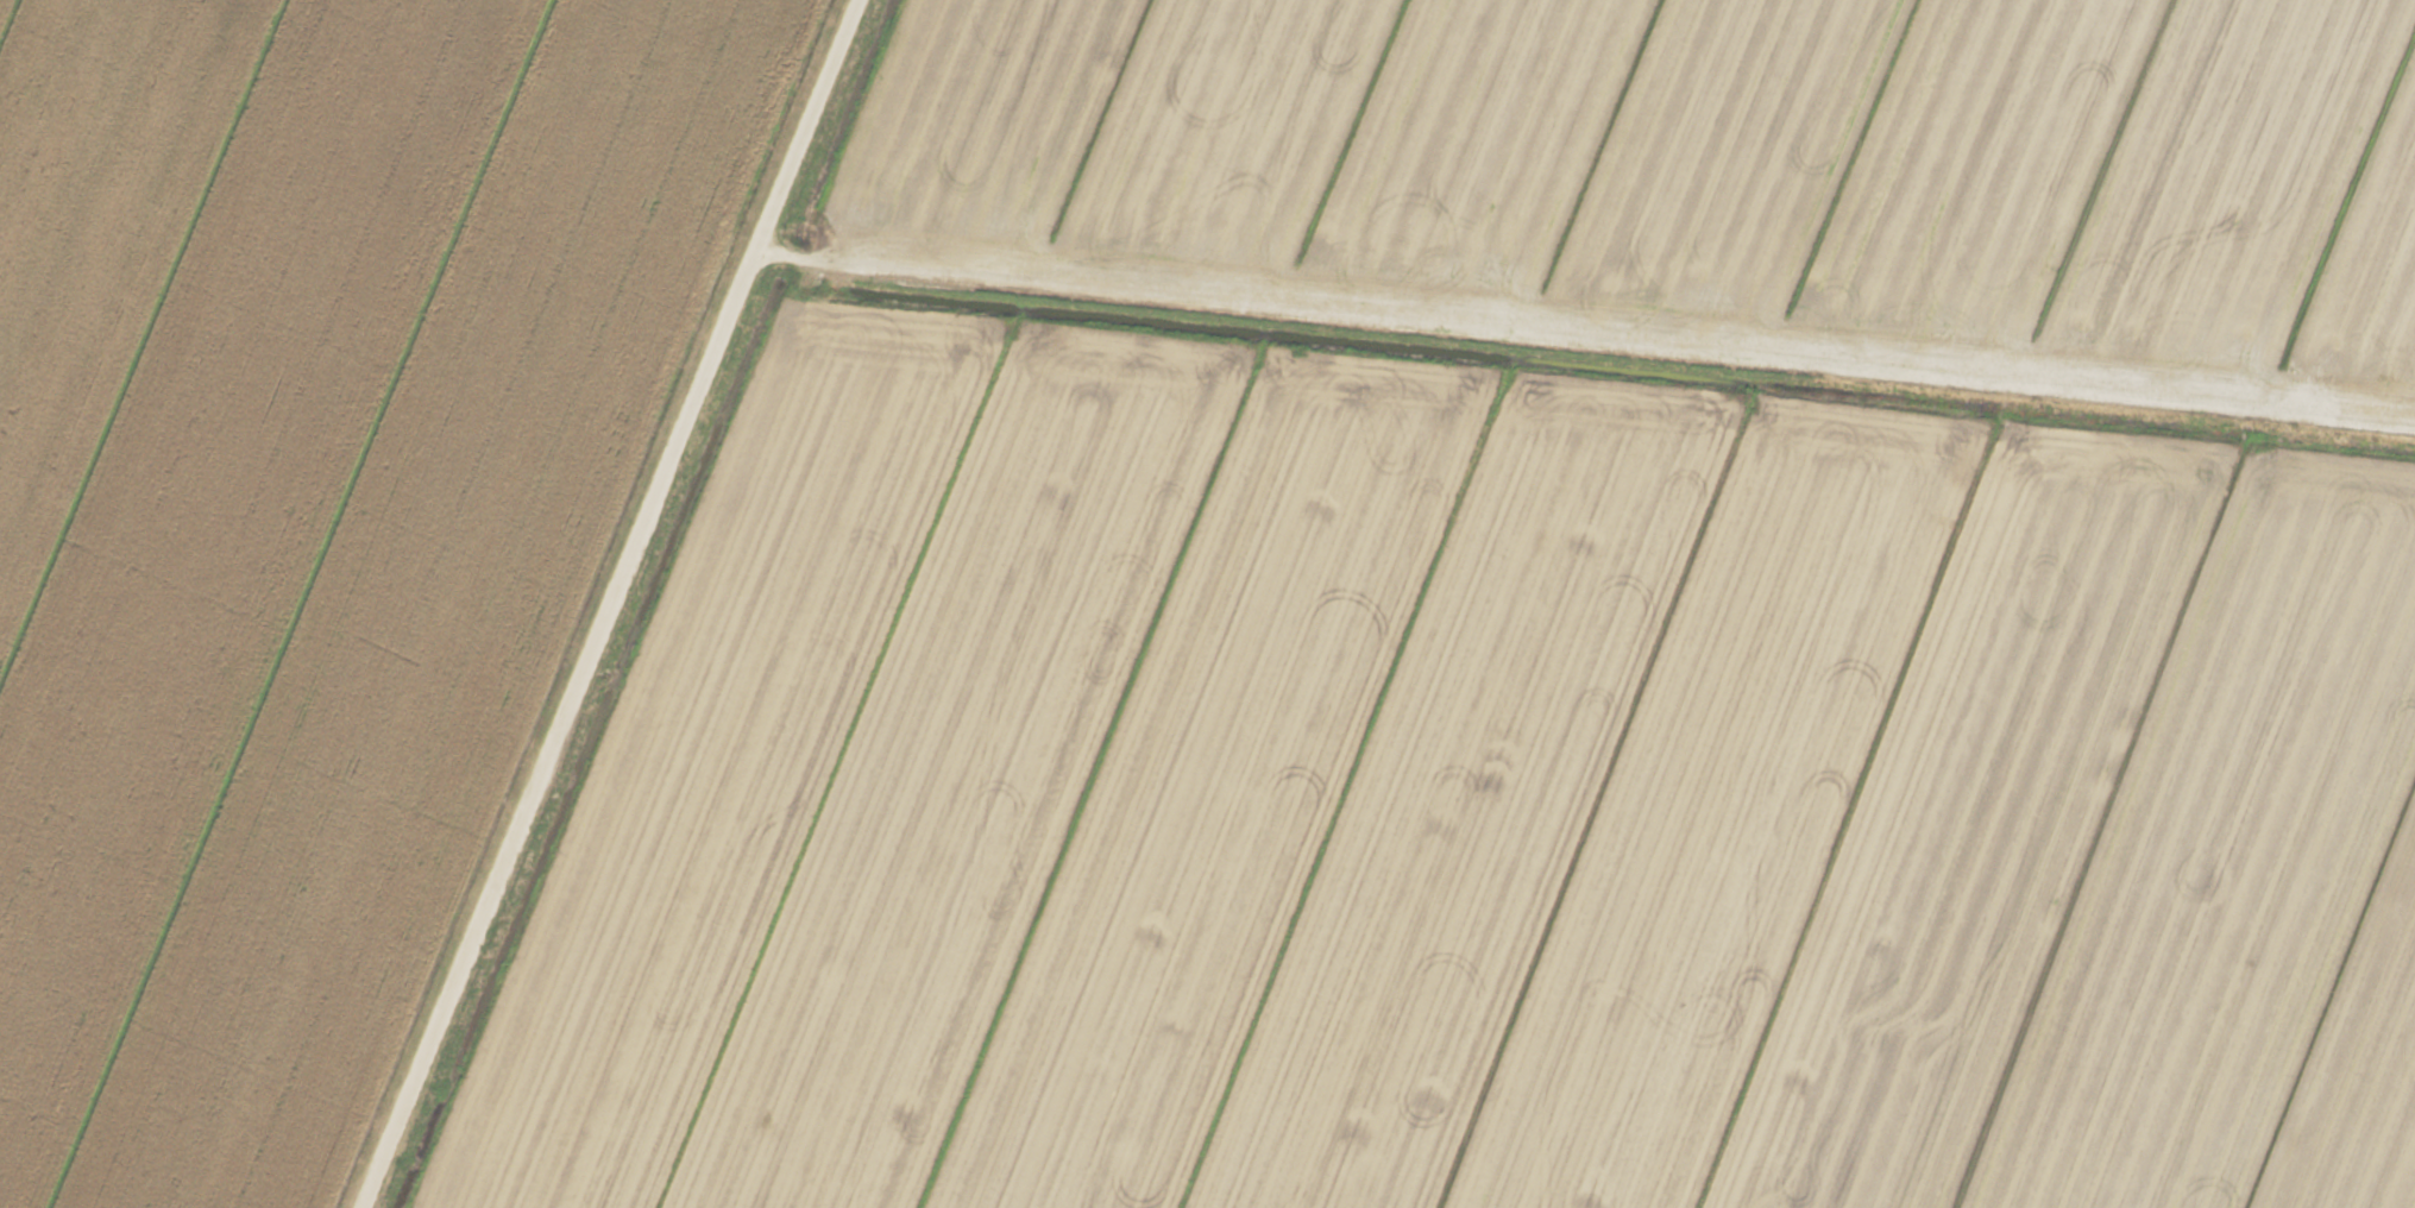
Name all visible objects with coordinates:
road: (1587, 336)
road: (615, 604)
crop: (1207, 604)

